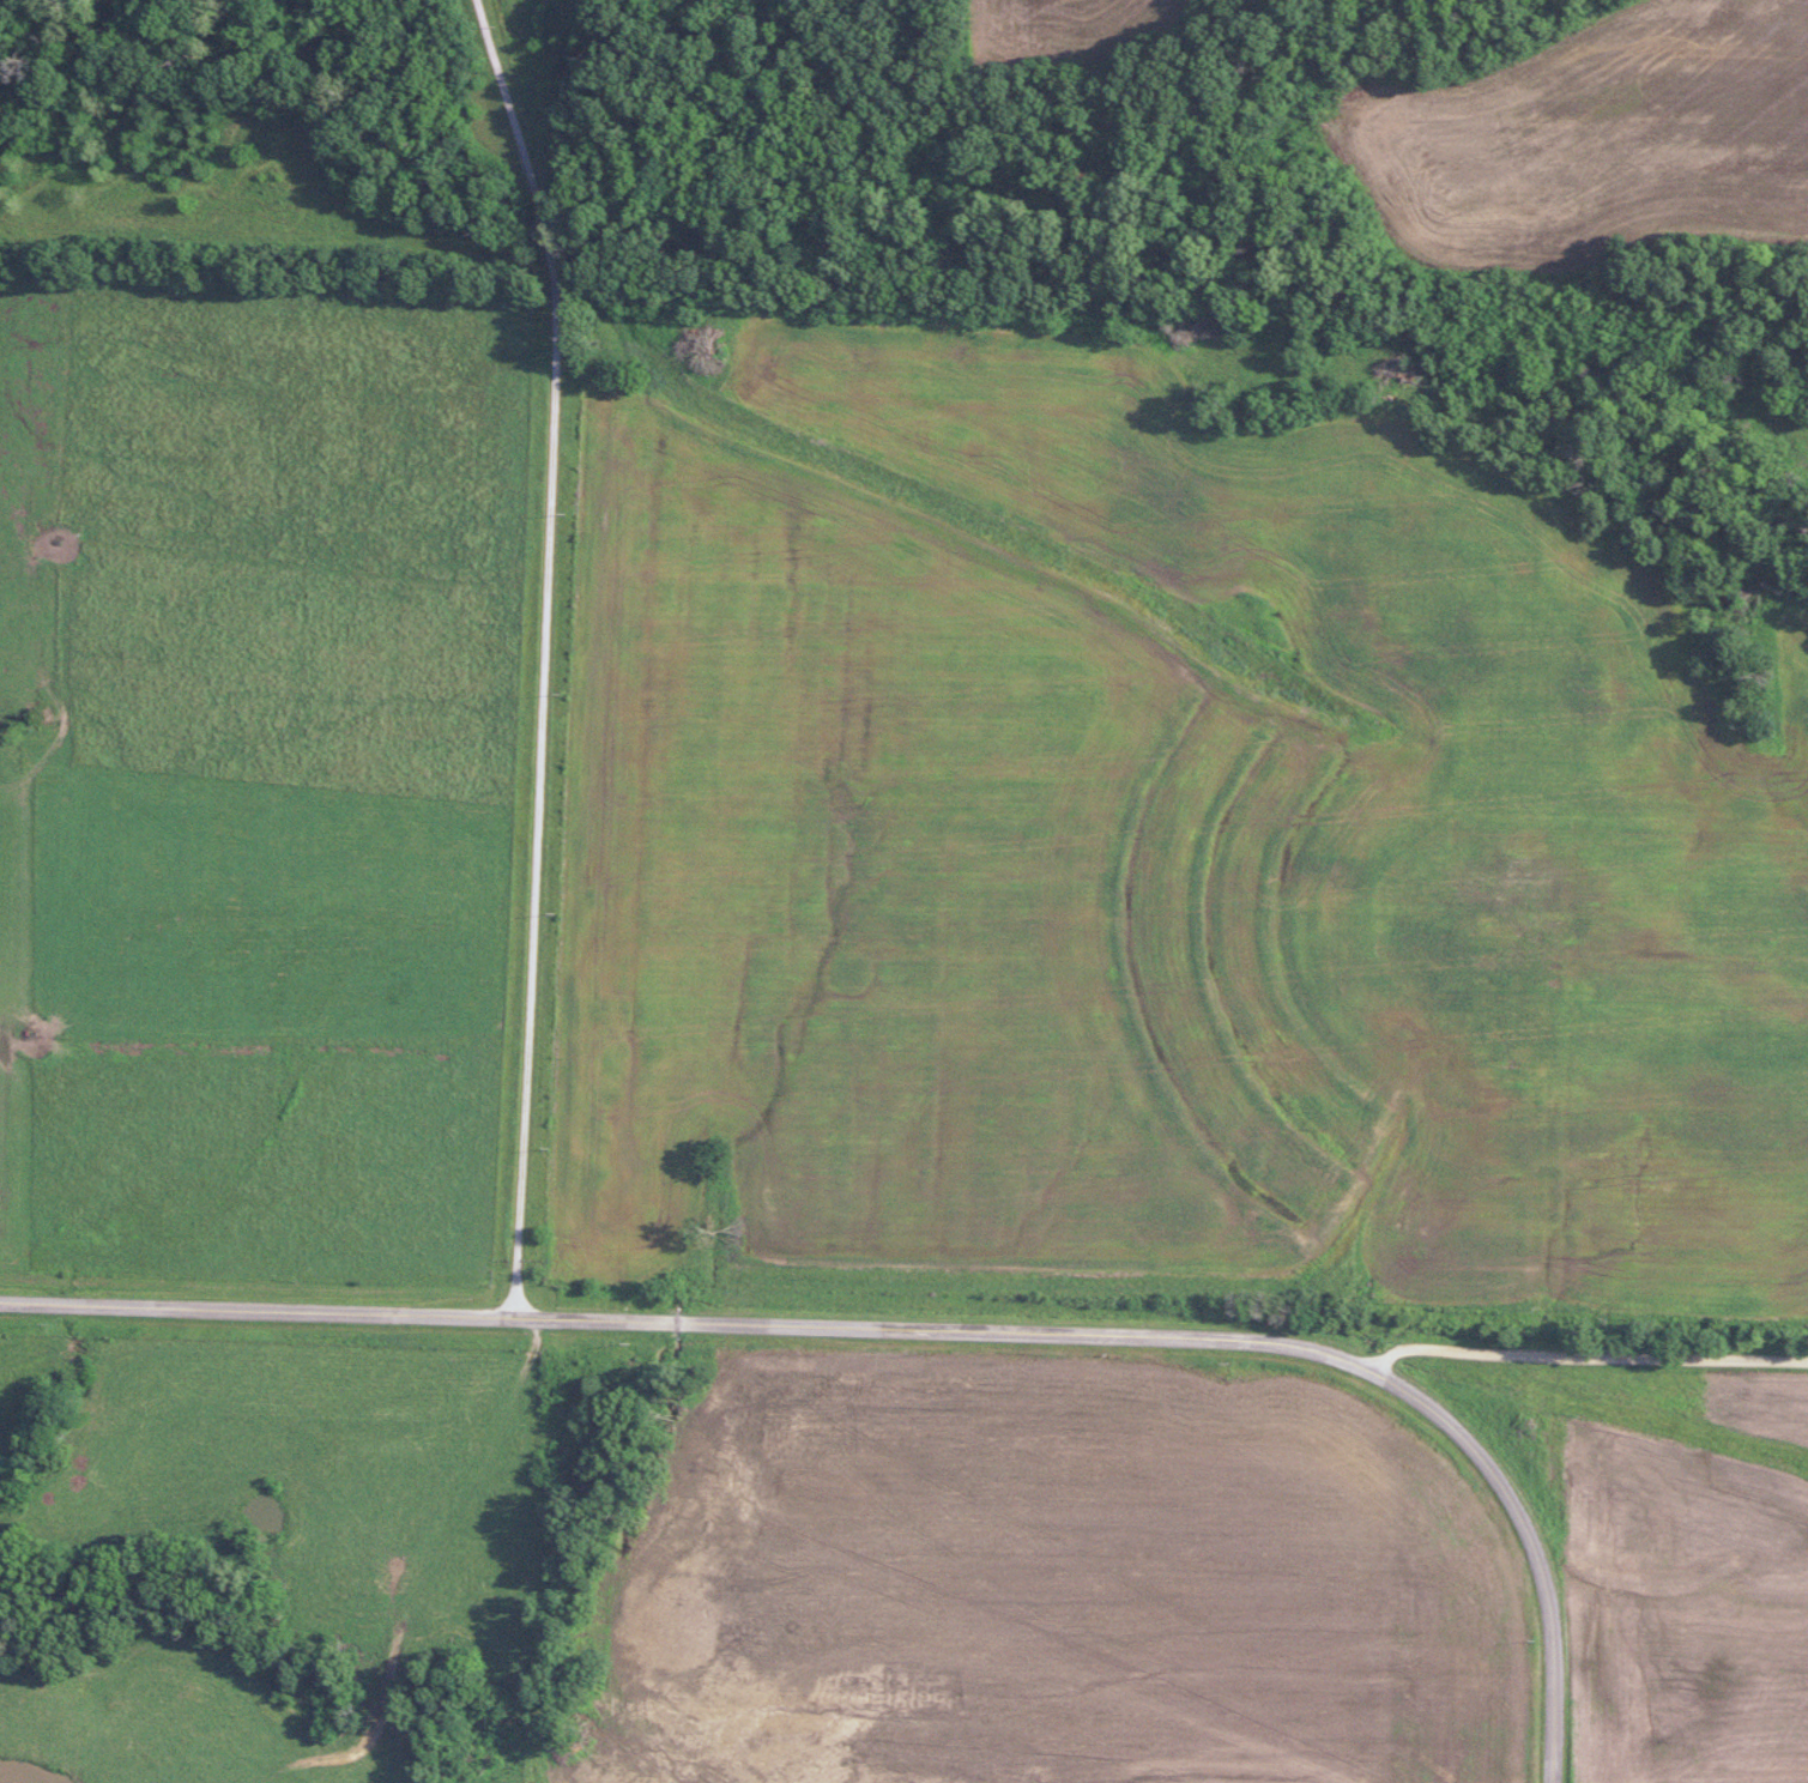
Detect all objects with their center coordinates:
road: (542, 653)
road: (930, 1329)
road: (1585, 1356)

